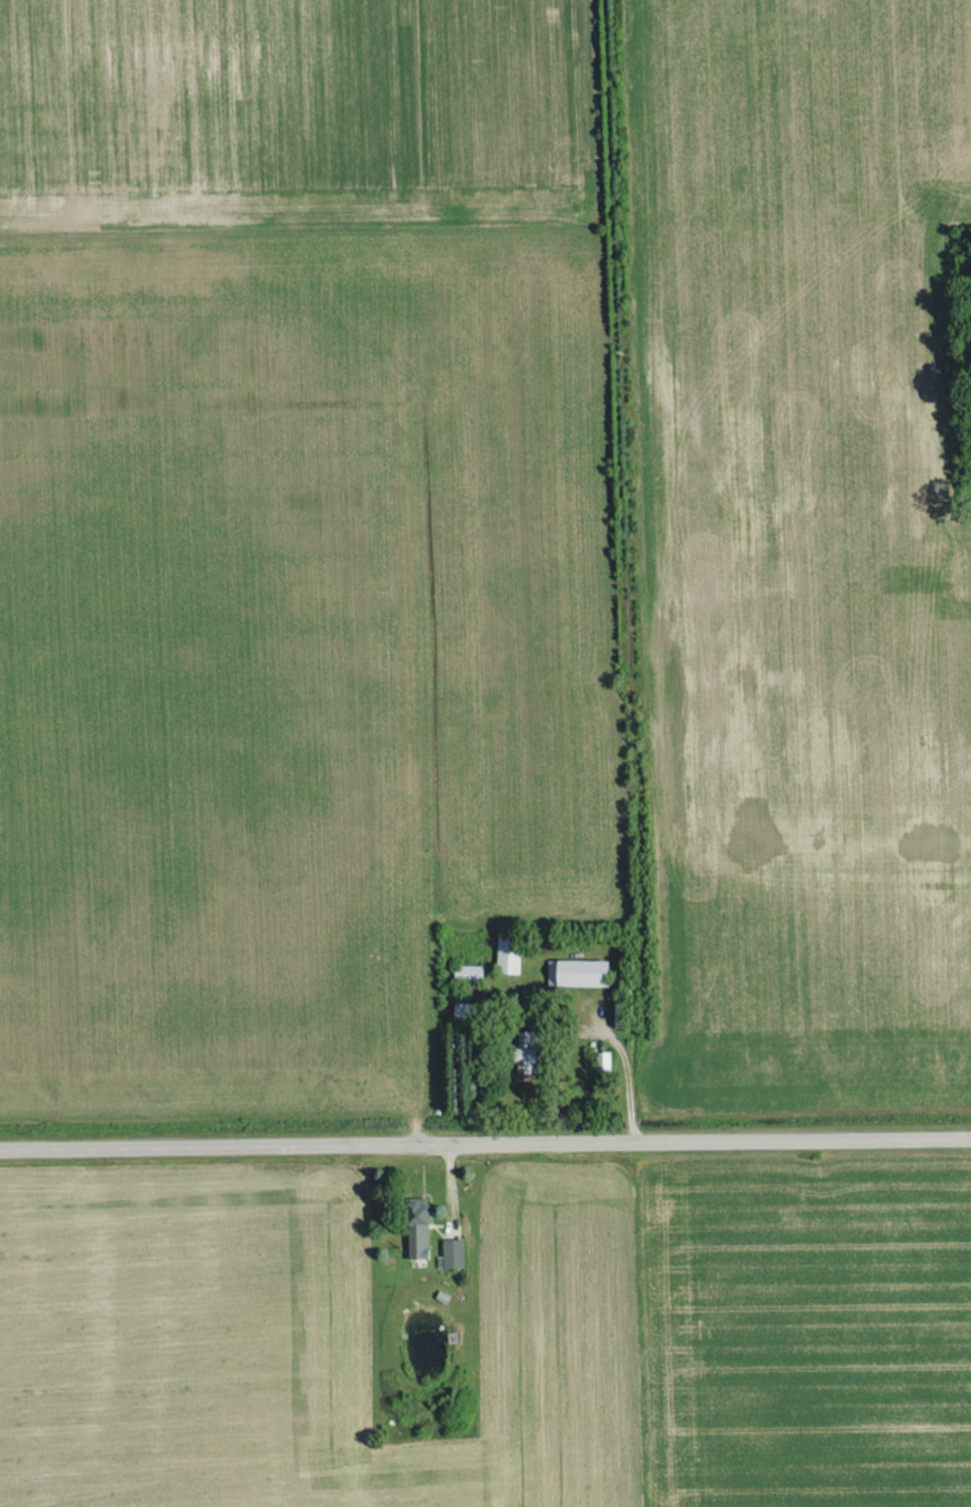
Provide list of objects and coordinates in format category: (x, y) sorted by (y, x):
crop: (291, 116)
crop: (800, 550)
crop: (290, 653)
building: (502, 954)
building: (464, 972)
building: (572, 974)
building: (458, 1012)
building: (614, 1016)
building: (520, 1052)
road: (485, 1137)
building: (413, 1233)
building: (446, 1255)
crop: (801, 1336)
crop: (294, 1342)

